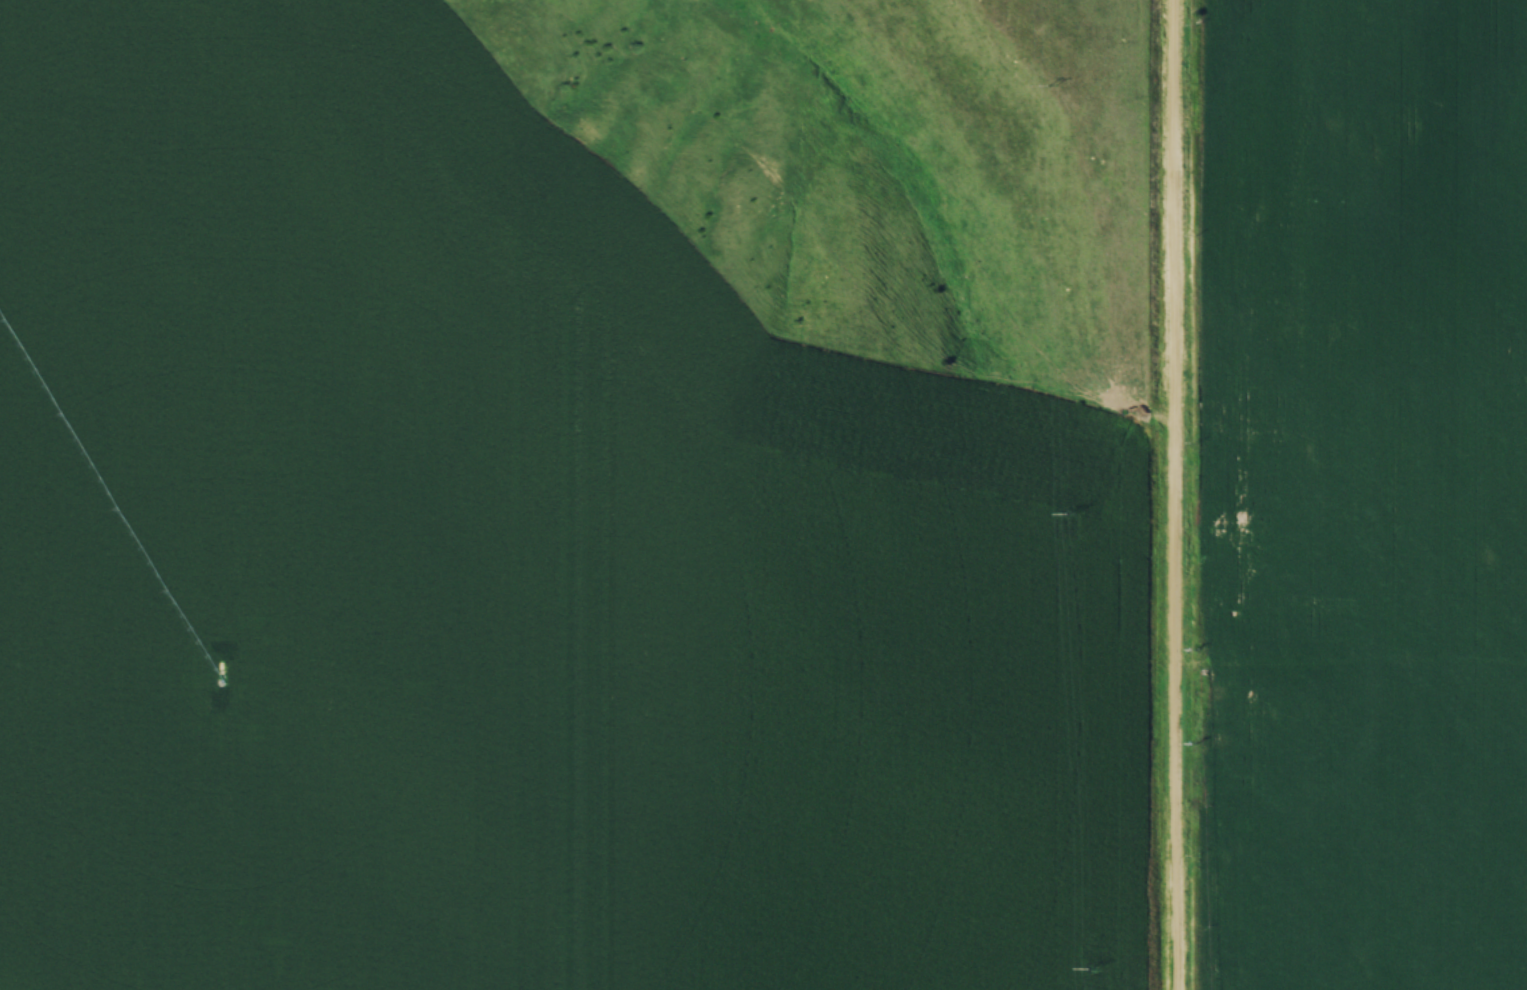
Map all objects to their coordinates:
power tower: (1055, 84)
road: (1180, 495)
power tower: (1073, 512)
power tower: (1090, 966)

